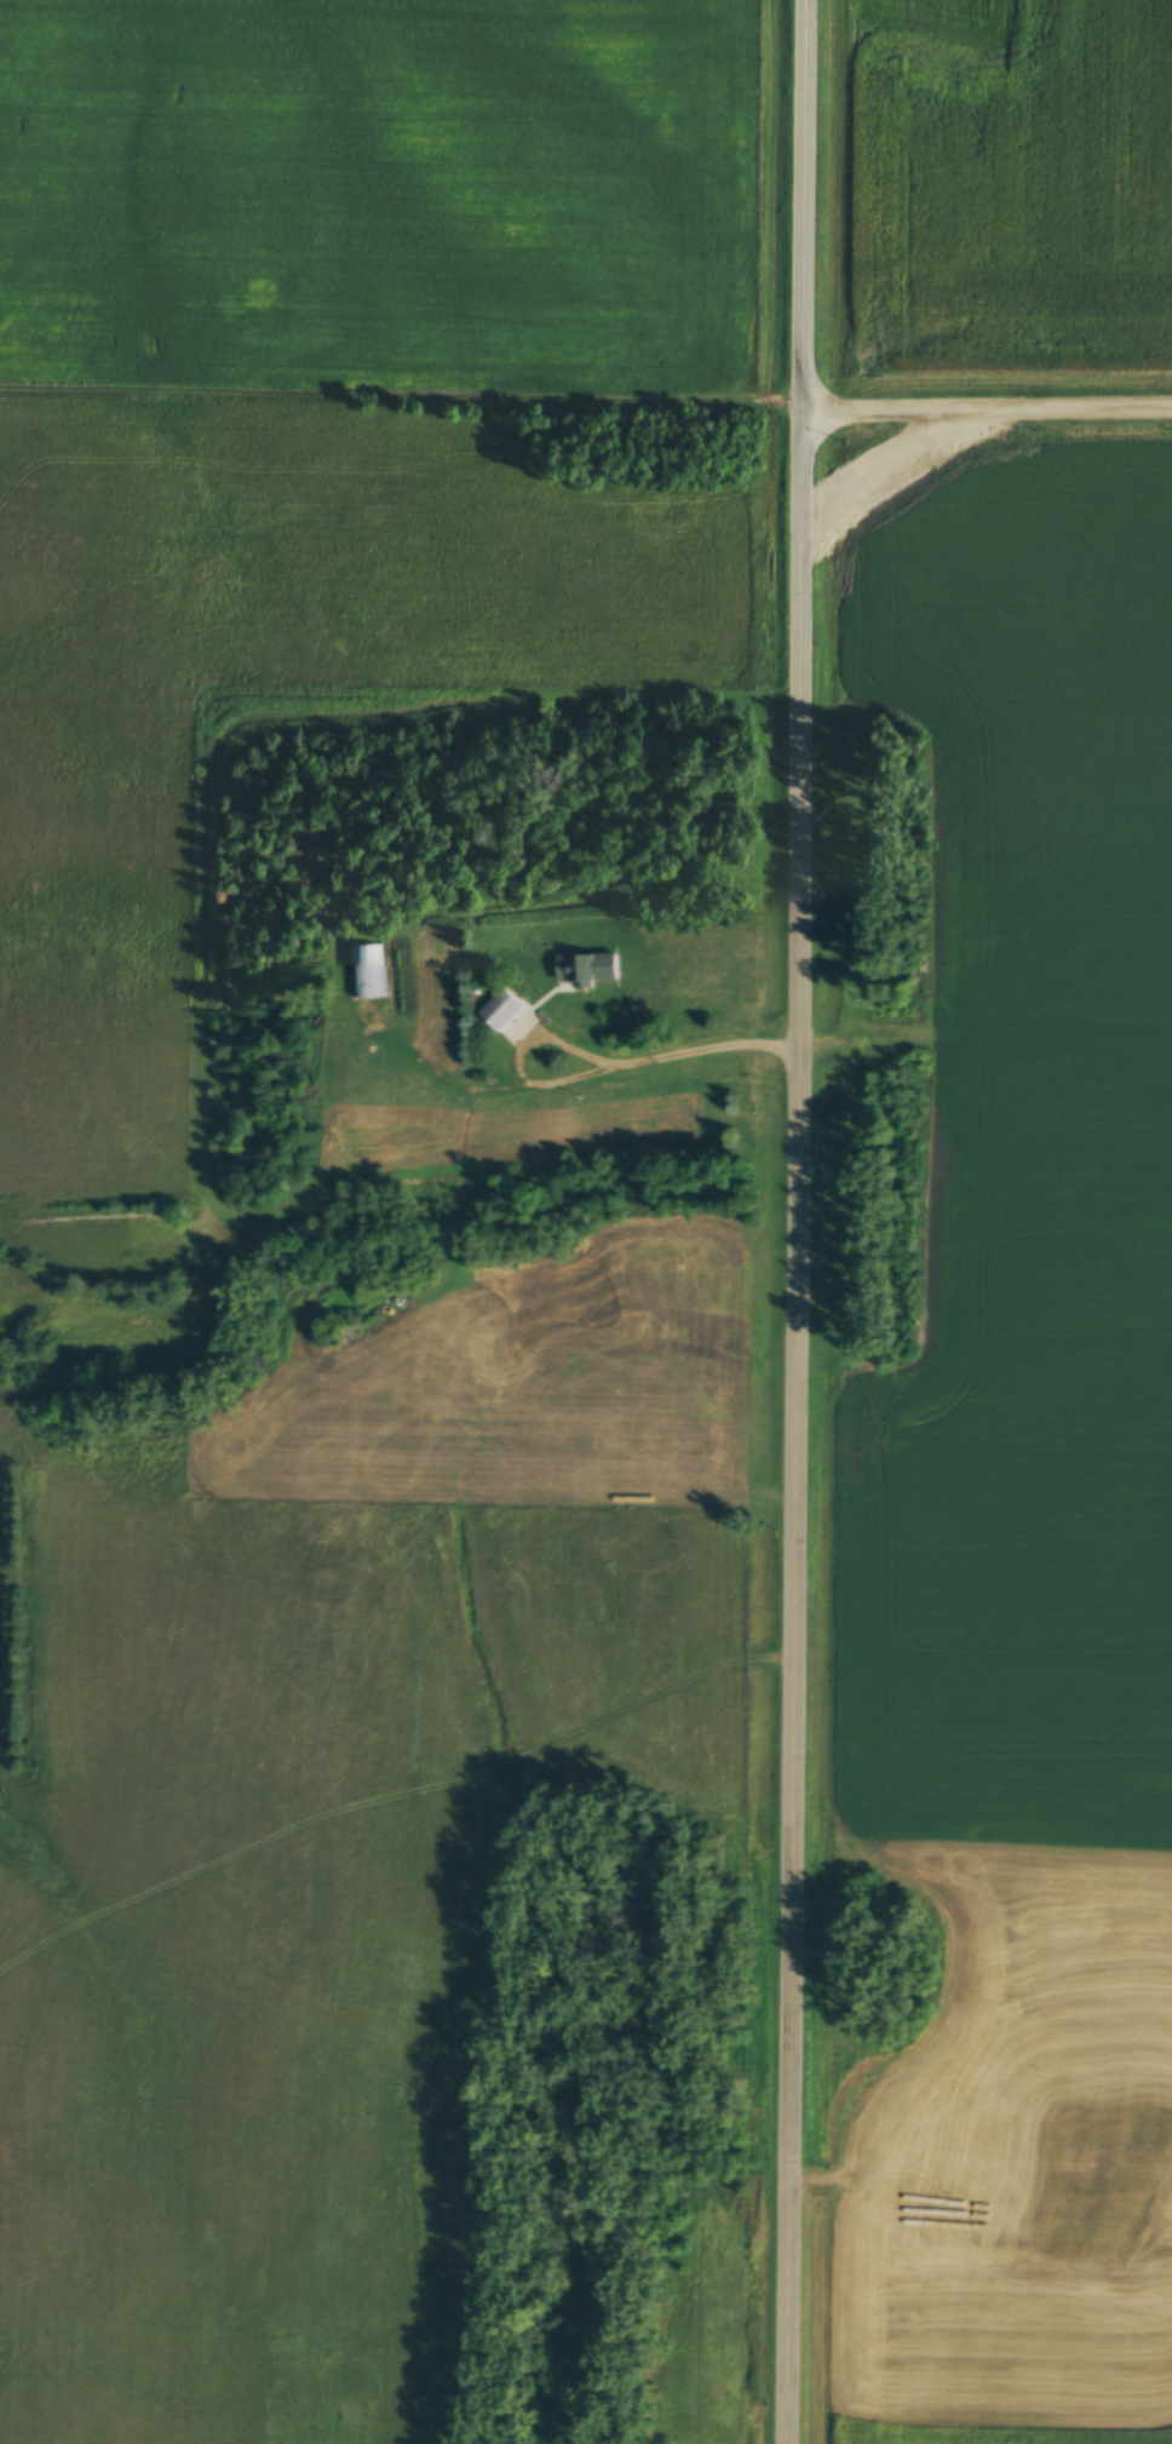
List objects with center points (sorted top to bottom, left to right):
road: (812, 203)
road: (992, 406)
building: (366, 970)
building: (578, 971)
building: (498, 1010)
road: (536, 1026)
road: (708, 1043)
road: (806, 1425)

